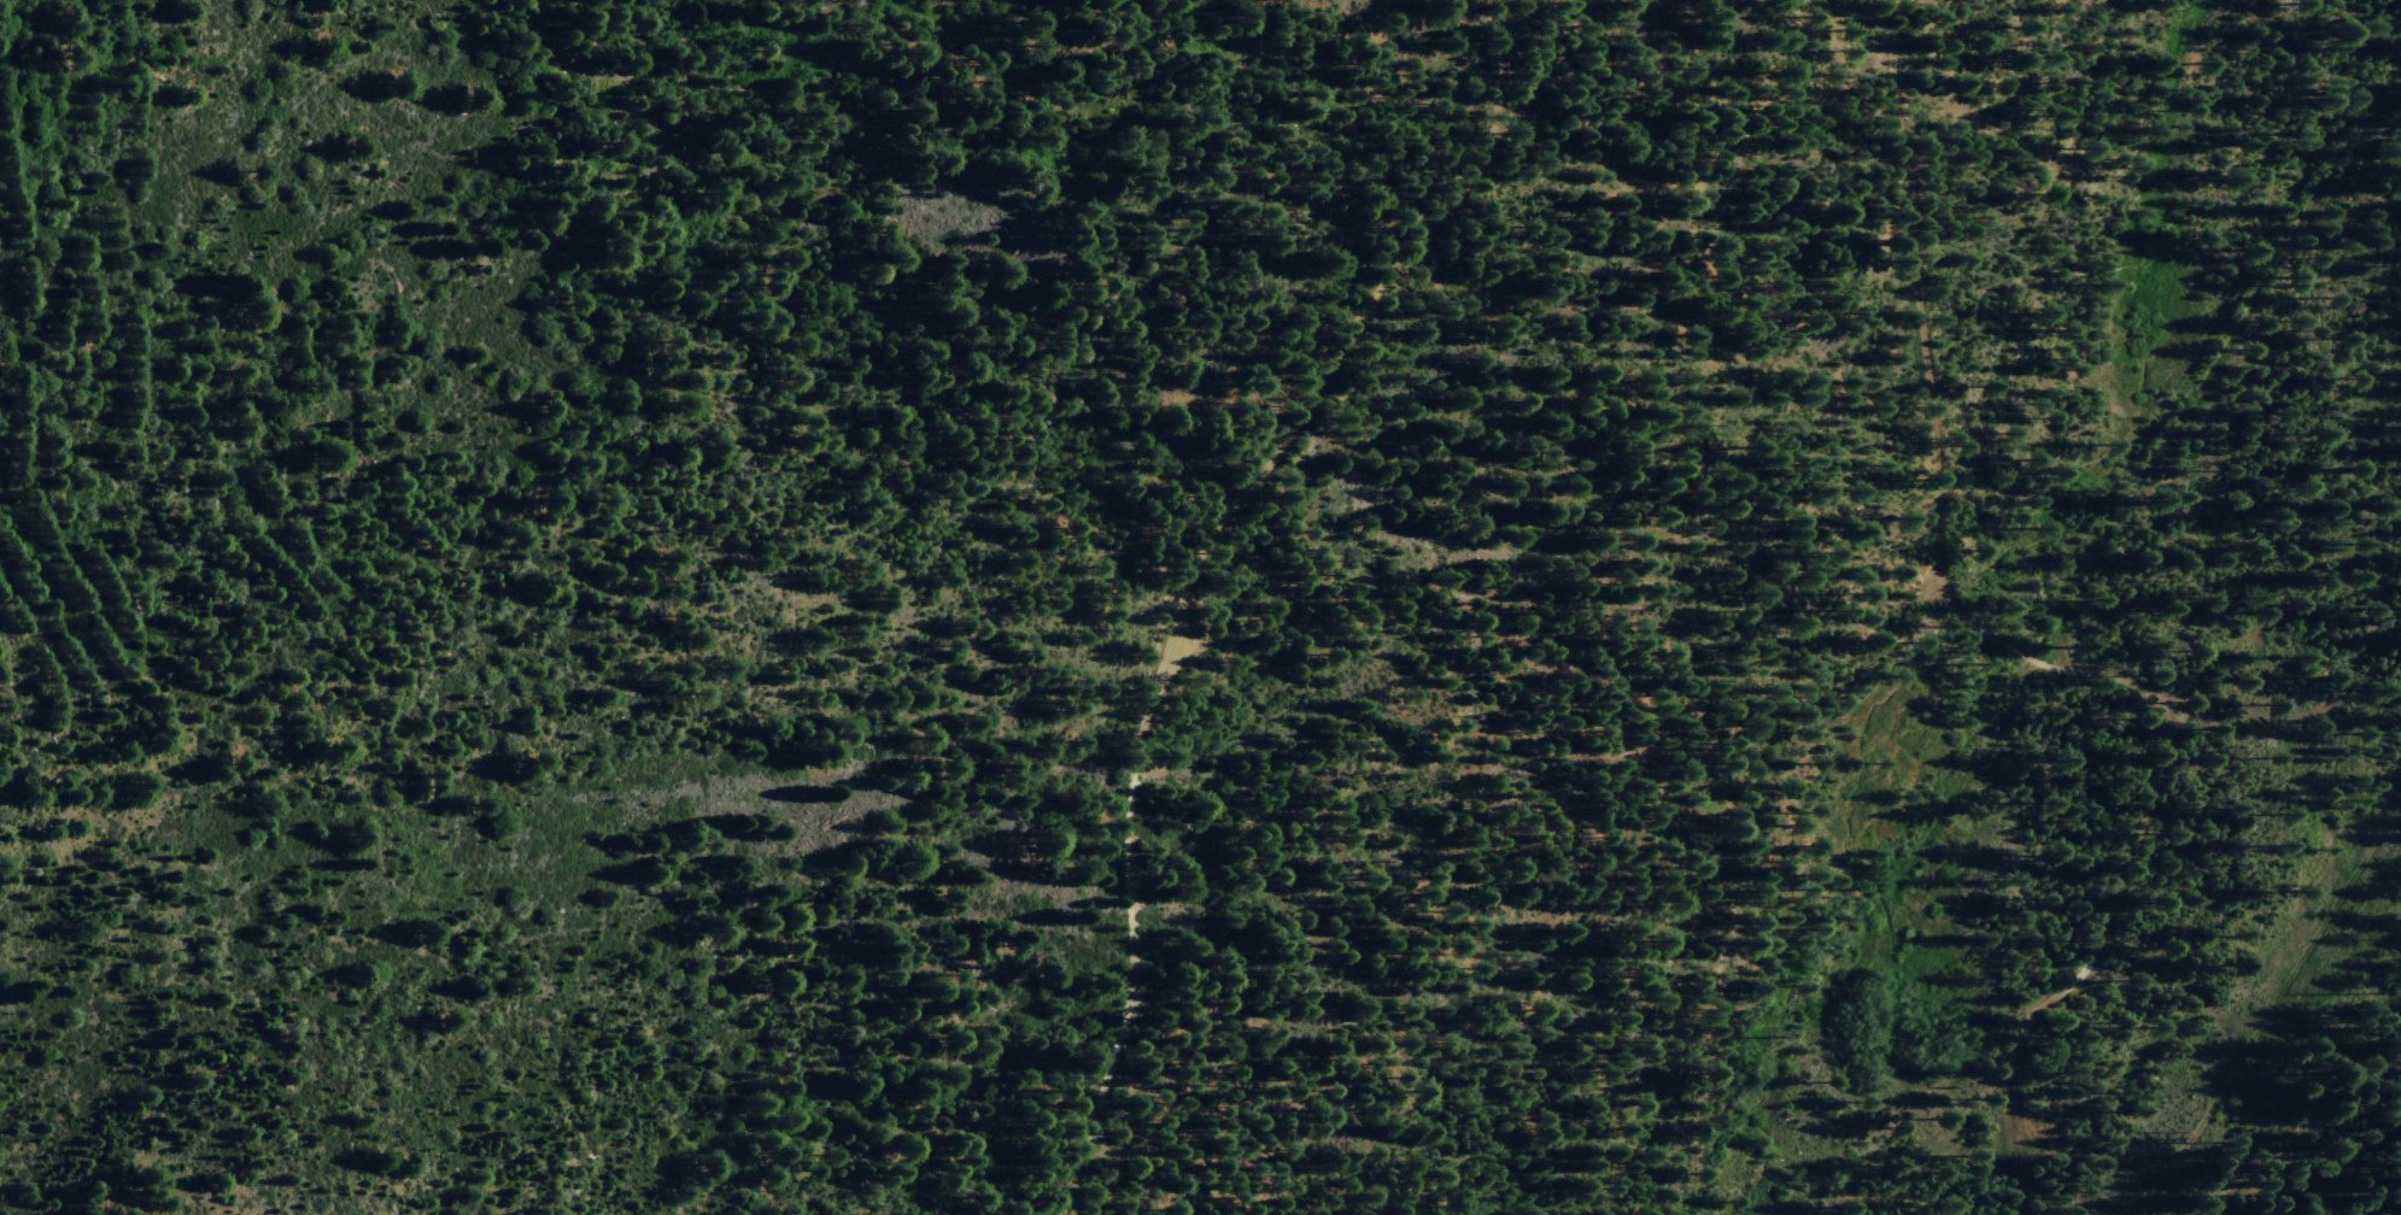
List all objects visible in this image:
road: (1298, 428)
road: (2008, 653)
road: (2274, 1021)
road: (1120, 1049)

